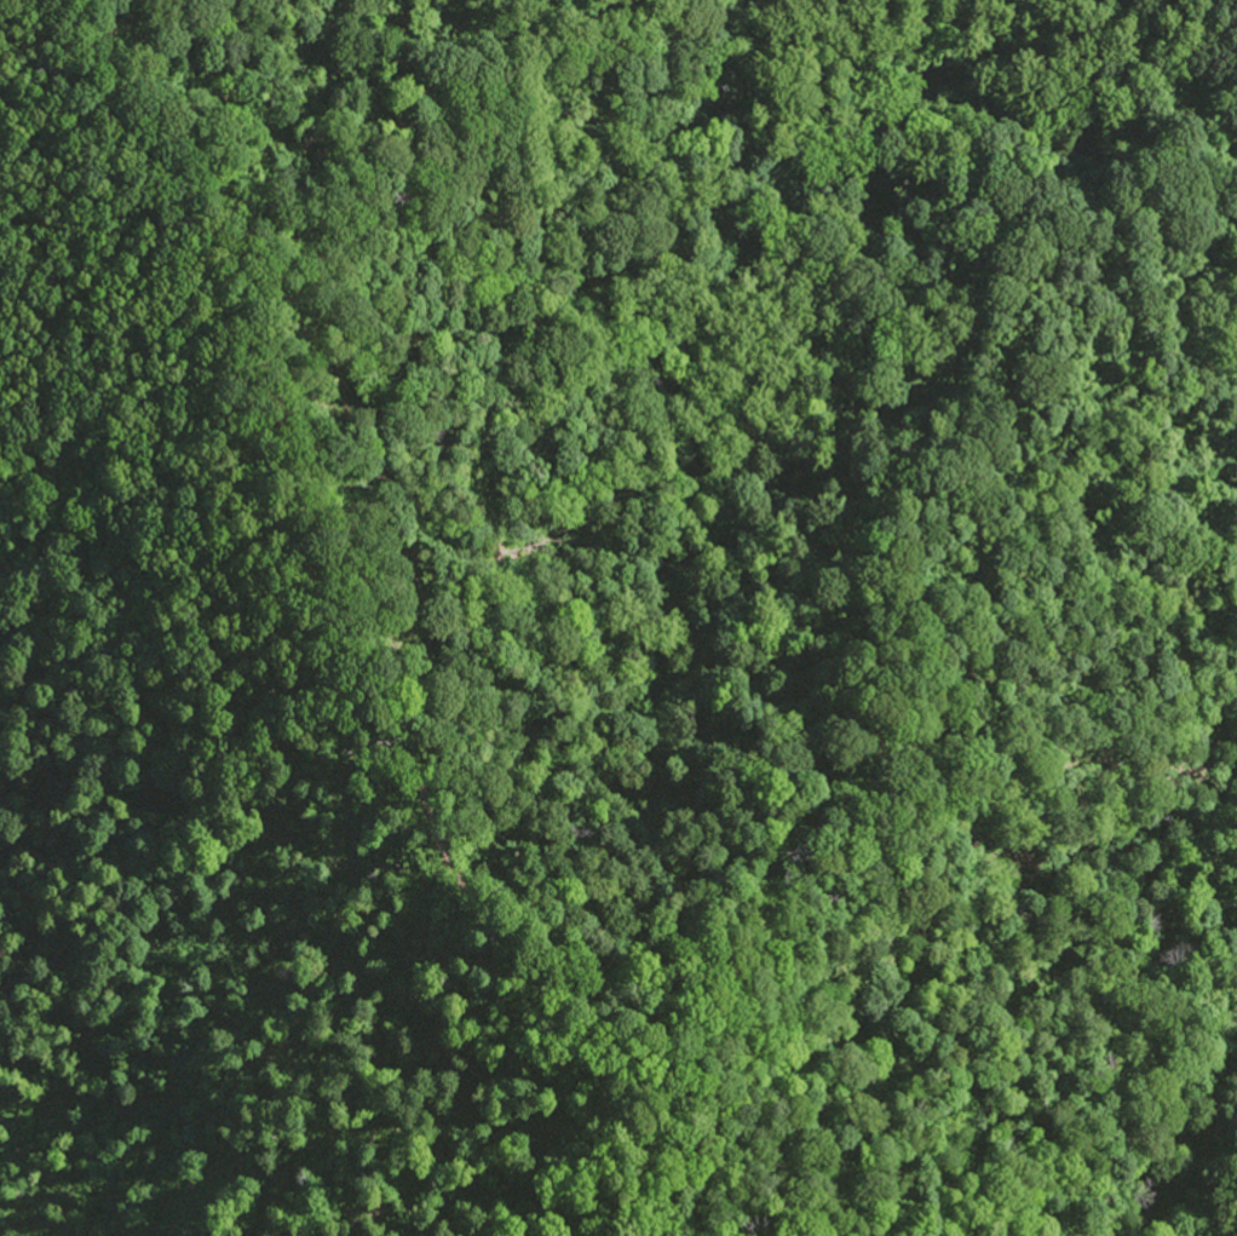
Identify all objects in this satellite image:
road: (939, 1202)

